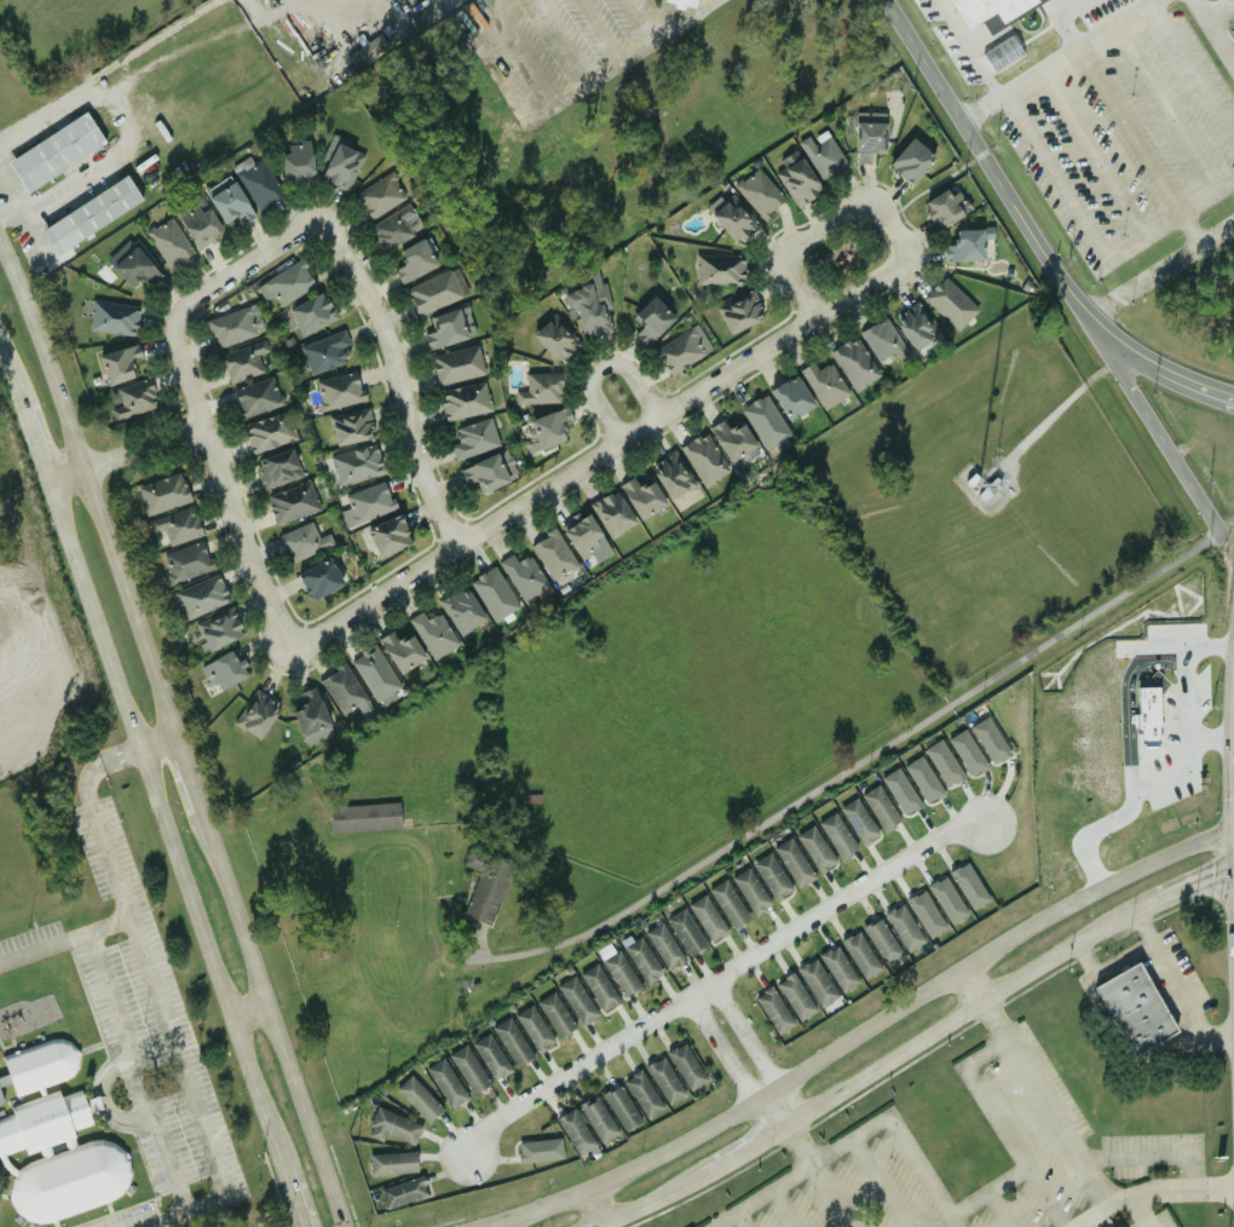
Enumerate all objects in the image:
building: (686, 1)
parking lot: (1226, 13)
building: (986, 17)
road: (1062, 18)
road: (682, 19)
road: (1216, 28)
crop: (65, 38)
road: (965, 47)
road: (518, 51)
building: (367, 53)
building: (1002, 54)
road: (1055, 57)
road: (618, 59)
road: (129, 65)
parking lot: (1100, 111)
building: (869, 136)
building: (54, 151)
building: (823, 154)
building: (294, 160)
building: (911, 160)
building: (340, 163)
building: (796, 178)
building: (256, 183)
building: (759, 192)
building: (380, 195)
road: (60, 198)
building: (227, 201)
building: (945, 207)
road: (22, 214)
building: (88, 214)
building: (732, 217)
building: (197, 220)
building: (396, 226)
road: (1036, 226)
building: (168, 243)
building: (964, 246)
building: (414, 260)
building: (132, 265)
road: (244, 265)
building: (719, 269)
road: (1165, 270)
road: (877, 275)
building: (288, 283)
building: (436, 292)
building: (950, 304)
building: (588, 305)
building: (739, 311)
building: (311, 313)
building: (113, 317)
building: (651, 319)
building: (233, 326)
building: (915, 327)
building: (449, 328)
building: (554, 339)
building: (883, 340)
building: (682, 350)
building: (323, 352)
building: (242, 361)
road: (8, 363)
building: (119, 363)
building: (854, 363)
building: (456, 365)
road: (598, 368)
road: (183, 373)
road: (396, 375)
building: (824, 384)
building: (540, 390)
building: (338, 391)
building: (256, 397)
building: (791, 397)
building: (133, 399)
building: (465, 402)
road: (1061, 405)
building: (766, 424)
building: (350, 427)
building: (548, 428)
road: (1159, 428)
road: (36, 430)
building: (269, 432)
building: (473, 438)
building: (734, 443)
road: (126, 456)
building: (704, 460)
building: (356, 465)
building: (276, 468)
building: (489, 471)
building: (670, 474)
road: (554, 478)
road: (51, 484)
building: (162, 494)
building: (641, 496)
building: (292, 502)
building: (365, 503)
building: (611, 513)
building: (175, 525)
building: (388, 535)
building: (583, 536)
road: (241, 538)
building: (302, 541)
building: (553, 554)
building: (186, 561)
building: (523, 576)
building: (318, 578)
road: (370, 594)
building: (492, 594)
building: (200, 595)
building: (461, 610)
building: (218, 629)
building: (432, 634)
building: (400, 651)
building: (224, 669)
building: (374, 673)
crop: (697, 681)
building: (342, 690)
road: (1233, 692)
building: (308, 712)
building: (255, 714)
road: (178, 736)
building: (990, 741)
road: (158, 742)
road: (1211, 742)
building: (967, 753)
road: (122, 755)
road: (855, 760)
building: (942, 762)
road: (1175, 767)
building: (923, 779)
road: (1233, 784)
building: (900, 791)
traffic signals: (1233, 796)
building: (880, 808)
building: (363, 817)
building: (858, 822)
road: (166, 824)
building: (837, 836)
building: (815, 849)
building: (792, 863)
road: (1232, 865)
traffic signals: (1212, 874)
building: (772, 877)
road: (1194, 881)
building: (485, 885)
building: (968, 886)
building: (750, 892)
road: (122, 898)
road: (1230, 898)
building: (947, 899)
building: (727, 904)
building: (925, 914)
building: (707, 918)
building: (904, 928)
building: (685, 932)
building: (324, 940)
building: (881, 941)
building: (663, 946)
building: (860, 956)
building: (641, 958)
building: (838, 969)
building: (617, 970)
road: (721, 977)
building: (817, 983)
road: (1174, 985)
building: (599, 987)
building: (795, 997)
building: (576, 1001)
road: (249, 1009)
building: (1135, 1009)
building: (773, 1010)
building: (555, 1015)
building: (534, 1029)
road: (870, 1030)
building: (512, 1042)
building: (491, 1056)
building: (39, 1066)
building: (686, 1066)
road: (873, 1067)
building: (468, 1070)
road: (183, 1073)
building: (664, 1081)
building: (445, 1083)
road: (138, 1093)
road: (981, 1093)
building: (642, 1094)
building: (417, 1099)
building: (0, 1100)
building: (621, 1108)
building: (598, 1119)
road: (887, 1119)
road: (788, 1123)
building: (392, 1128)
road: (1065, 1129)
building: (575, 1131)
road: (800, 1144)
building: (538, 1151)
building: (56, 1160)
building: (392, 1163)
road: (1096, 1181)
road: (881, 1182)
building: (402, 1192)
road: (301, 1196)
road: (830, 1196)
road: (1045, 1197)
road: (1151, 1198)
road: (786, 1206)
road: (604, 1208)
road: (1144, 1214)
road: (742, 1219)
road: (959, 1221)

